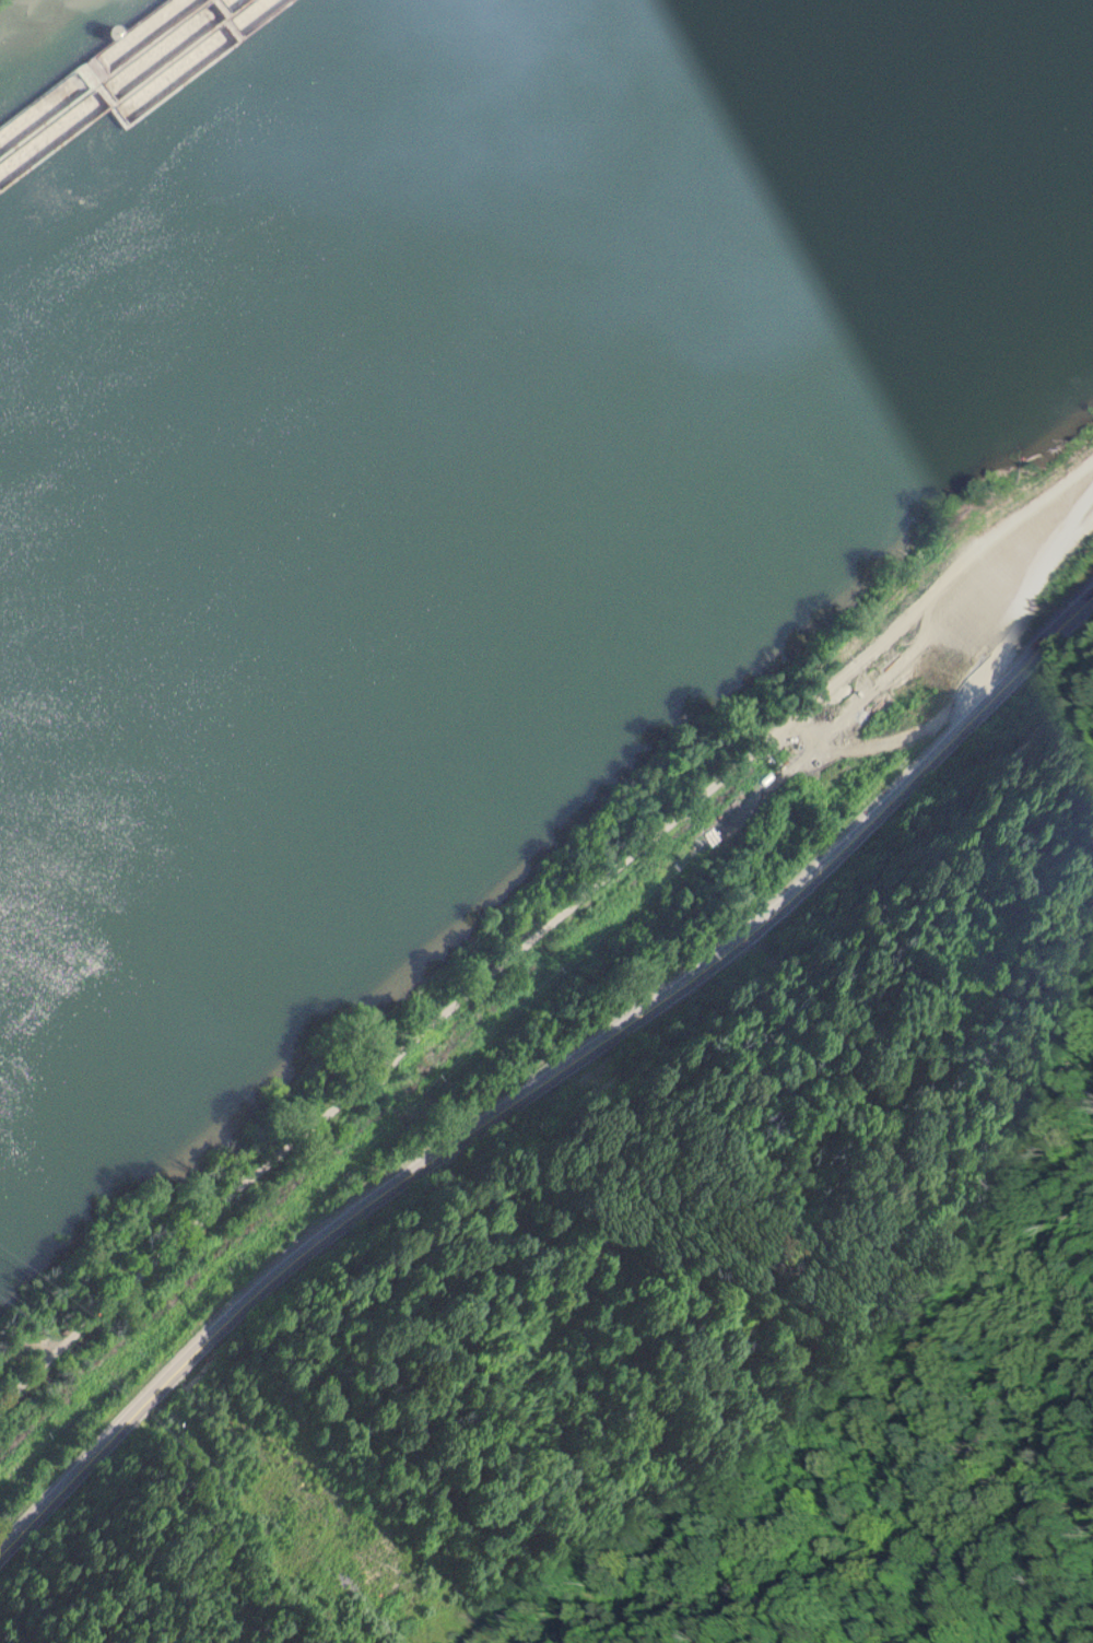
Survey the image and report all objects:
power plant: (17, 12)
river: (388, 324)
road: (544, 929)
road: (546, 1080)

